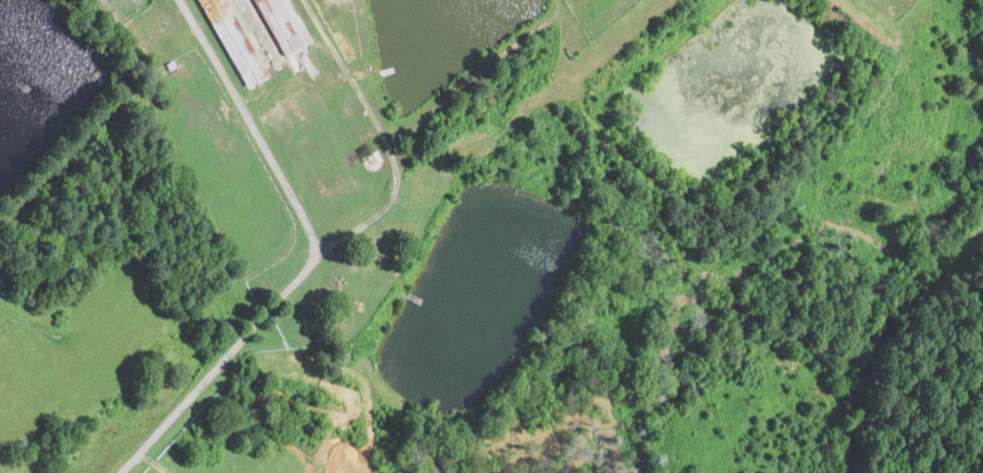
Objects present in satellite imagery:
building: (282, 25)
building: (232, 41)
road: (312, 254)

